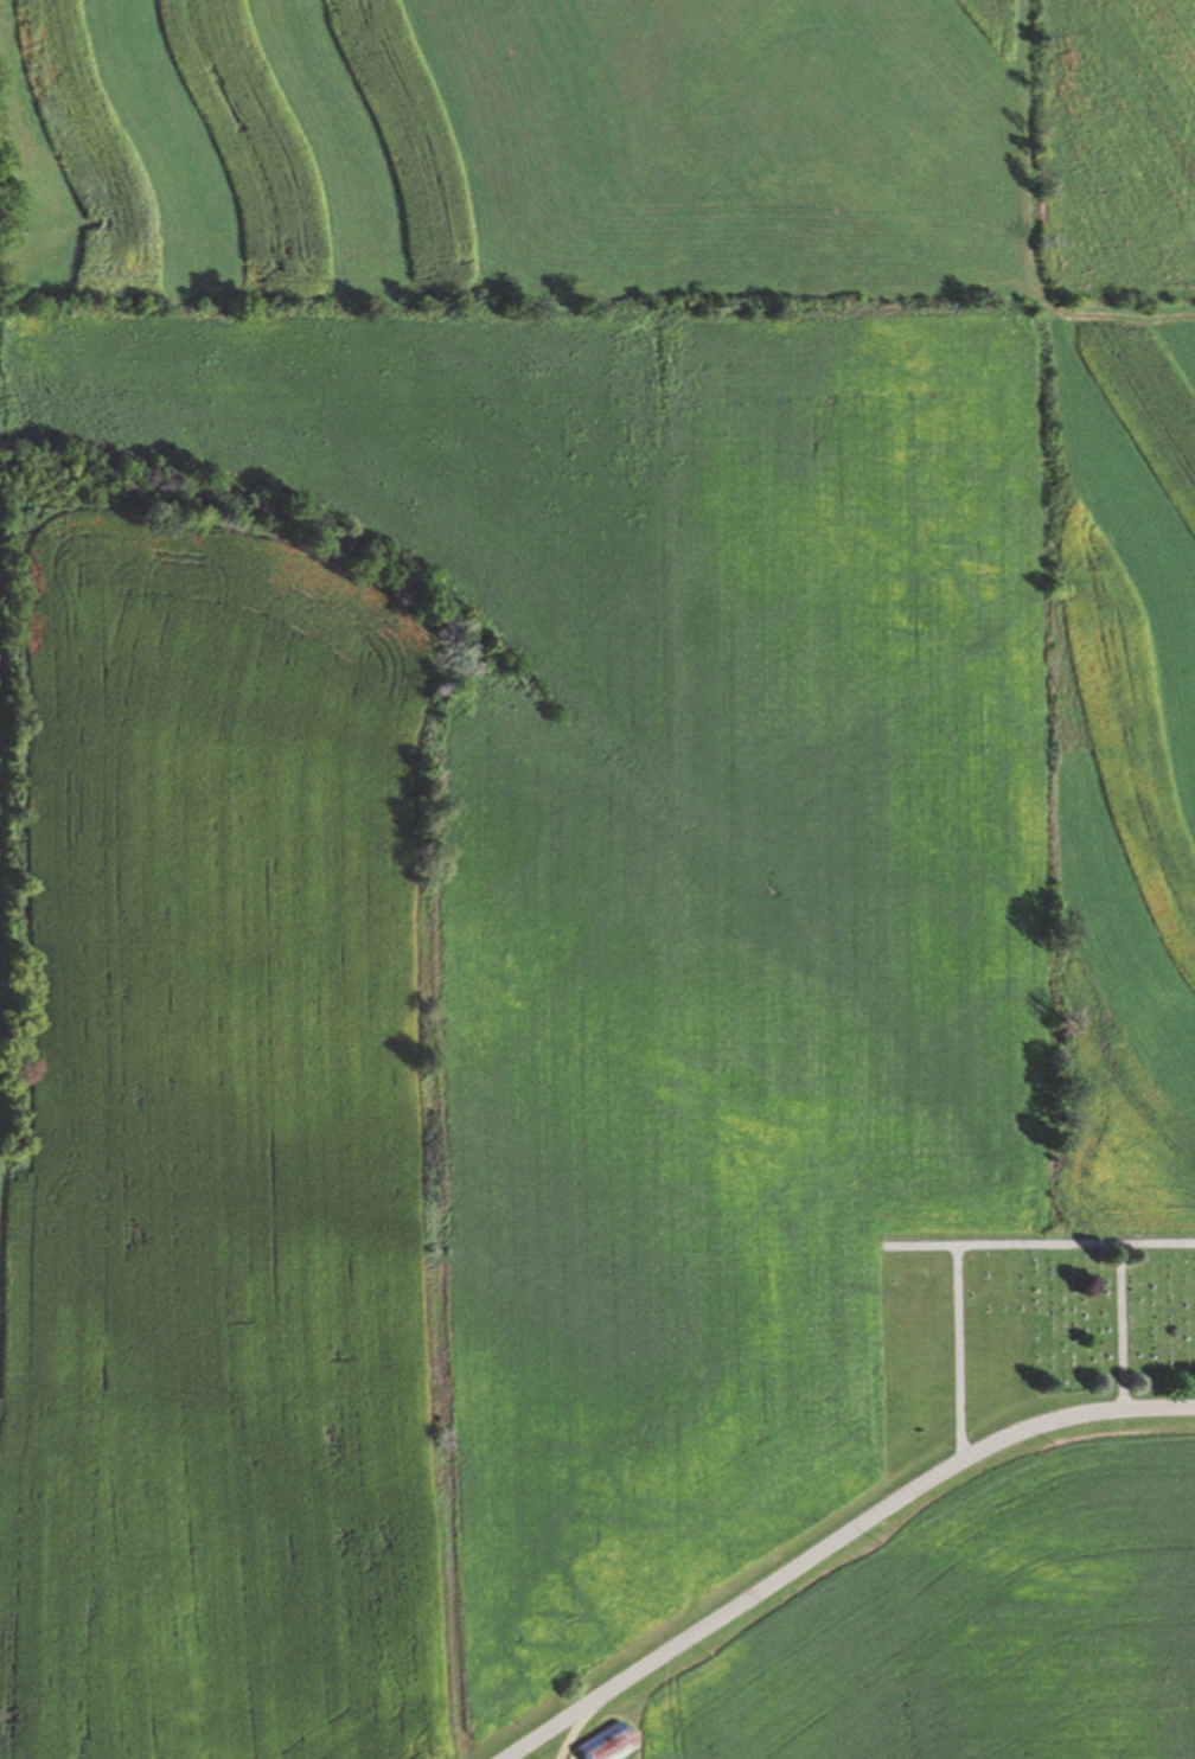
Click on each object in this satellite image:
road: (1075, 1246)
road: (958, 1317)
road: (1120, 1329)
park: (1022, 1333)
road: (833, 1541)
road: (564, 1735)
building: (607, 1744)

